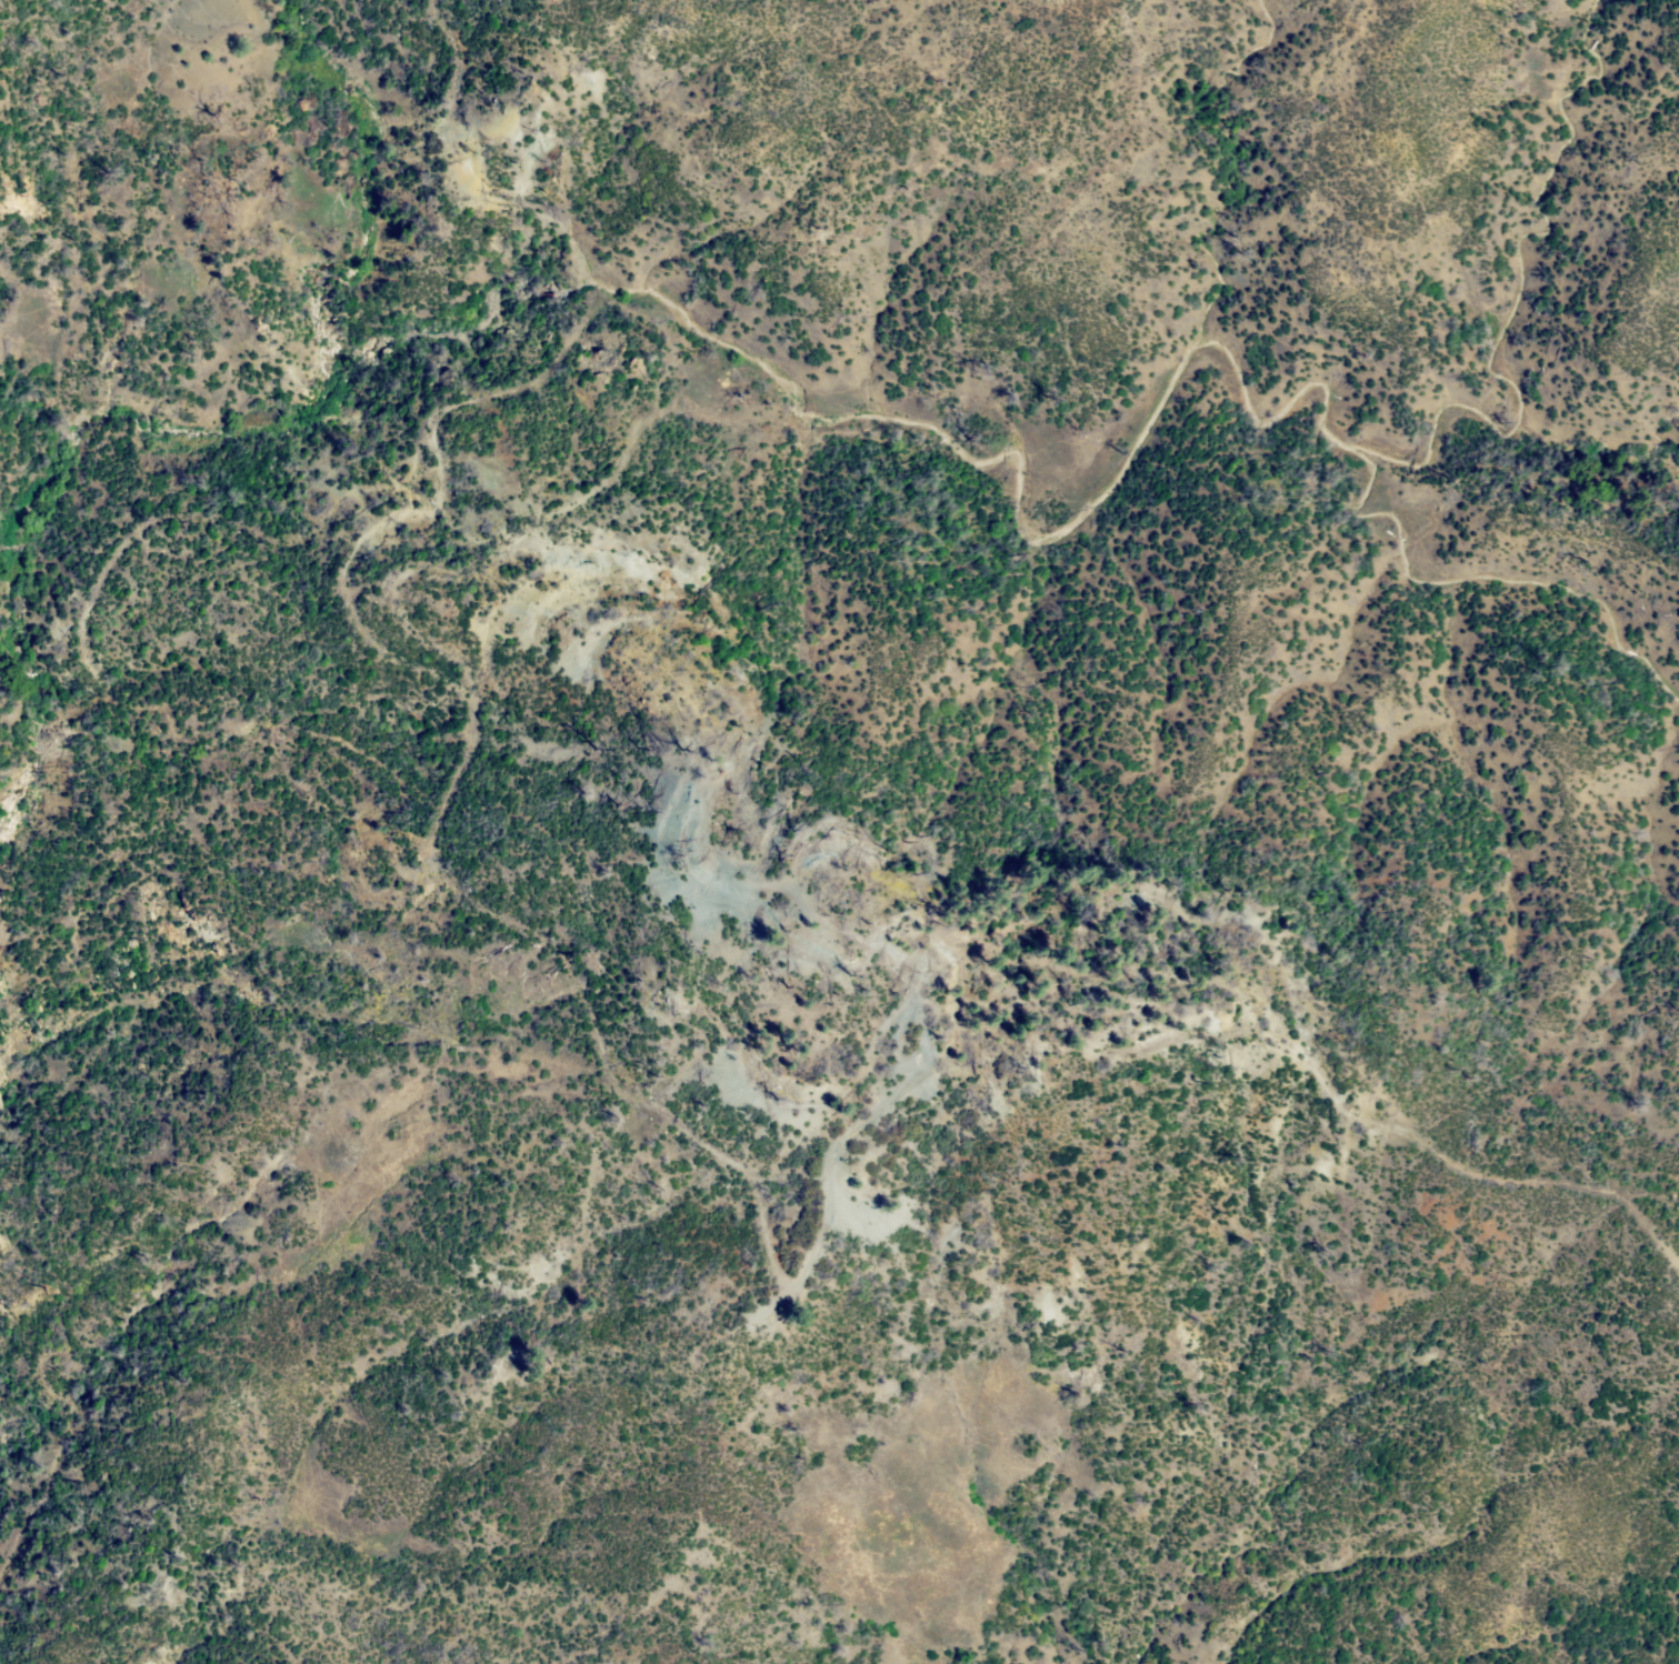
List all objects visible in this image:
road: (637, 1102)

